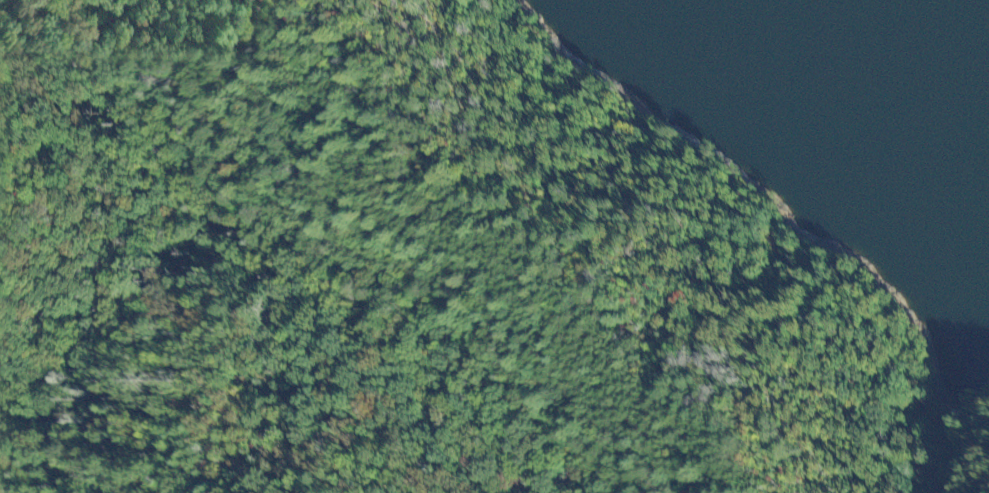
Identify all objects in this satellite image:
river: (971, 16)

